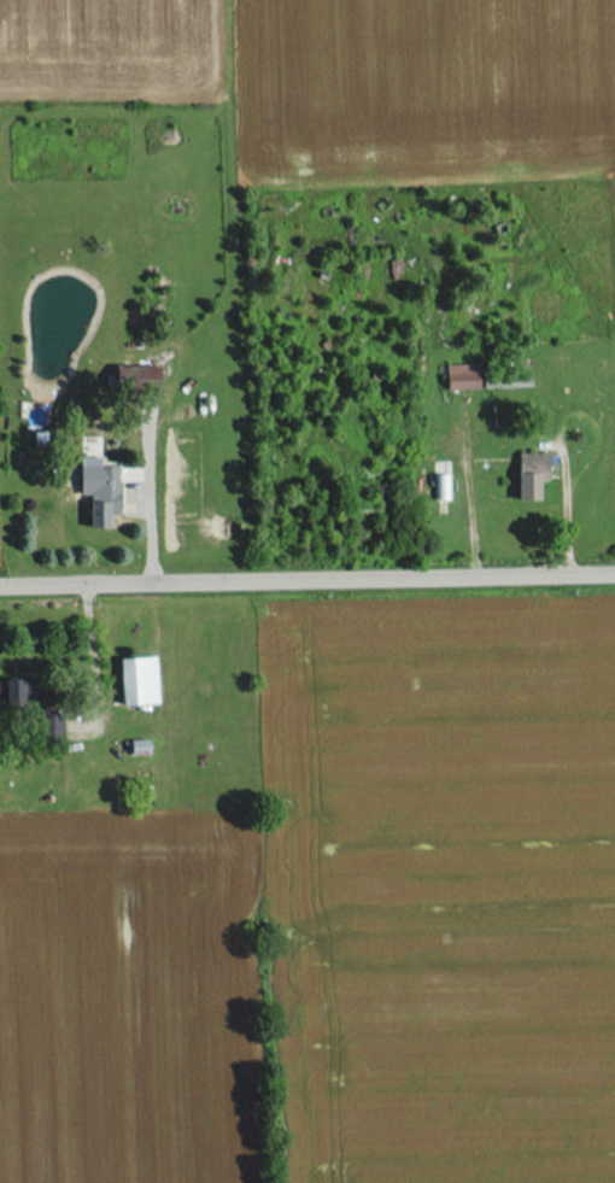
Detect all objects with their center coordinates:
crop: (107, 48)
crop: (416, 86)
building: (459, 376)
building: (529, 474)
building: (96, 488)
road: (567, 508)
road: (306, 574)
road: (94, 649)
building: (136, 680)
building: (23, 693)
crop: (438, 890)
crop: (130, 1000)

